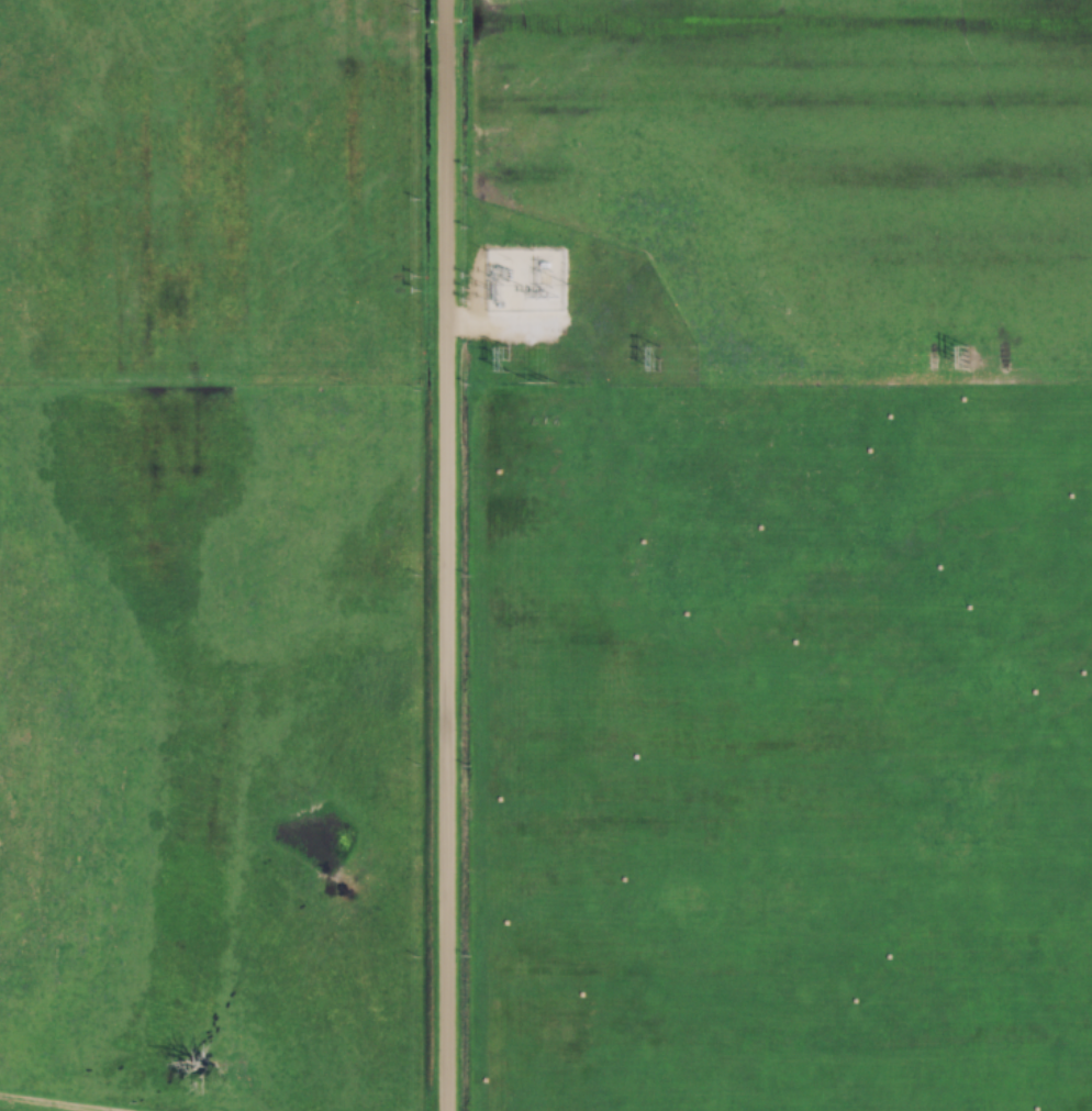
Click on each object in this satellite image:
power substation: (523, 280)
power tower: (543, 297)
power tower: (967, 358)
power tower: (658, 359)
power tower: (506, 360)
power tower: (543, 382)
road: (447, 555)
road: (24, 1106)

